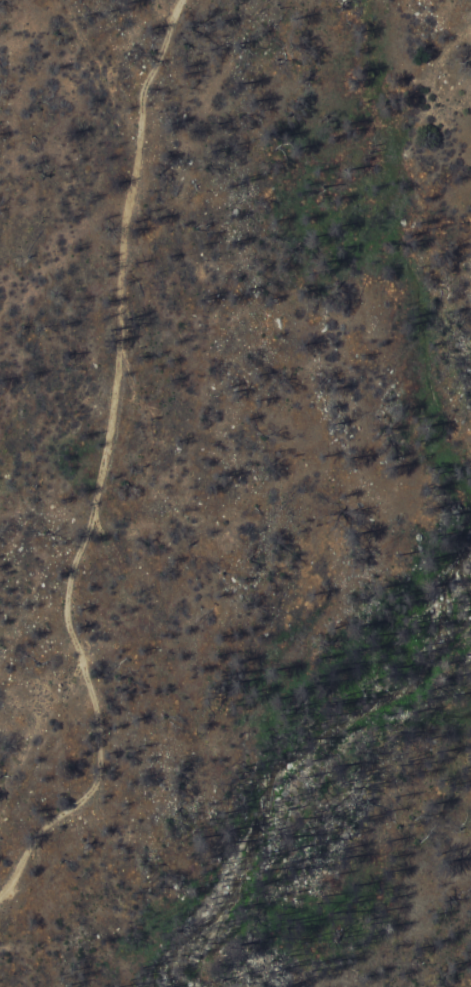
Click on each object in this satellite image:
road: (154, 64)
road: (88, 532)

